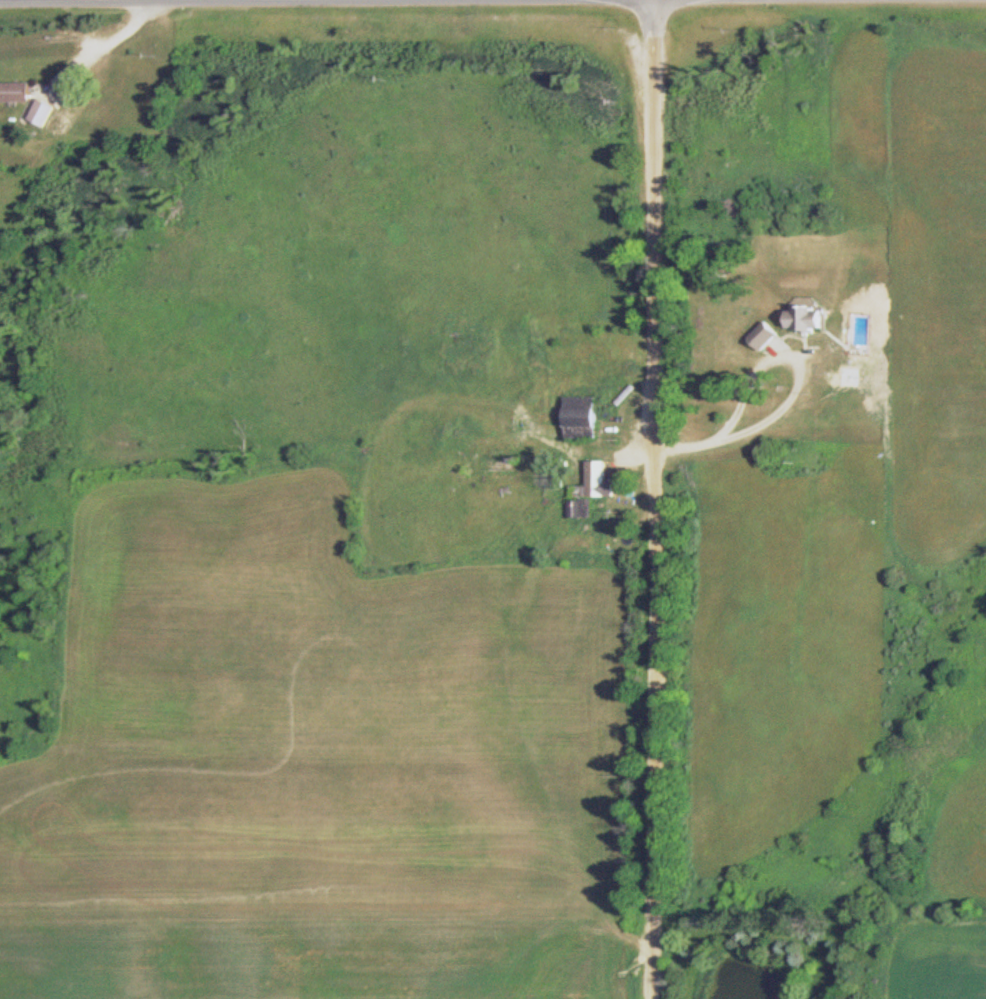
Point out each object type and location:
building: (18, 92)
building: (44, 112)
building: (809, 318)
building: (765, 335)
road: (797, 389)
building: (583, 418)
crop: (847, 465)
building: (592, 490)
road: (657, 499)
crop: (314, 762)
crop: (962, 830)
crop: (939, 956)

